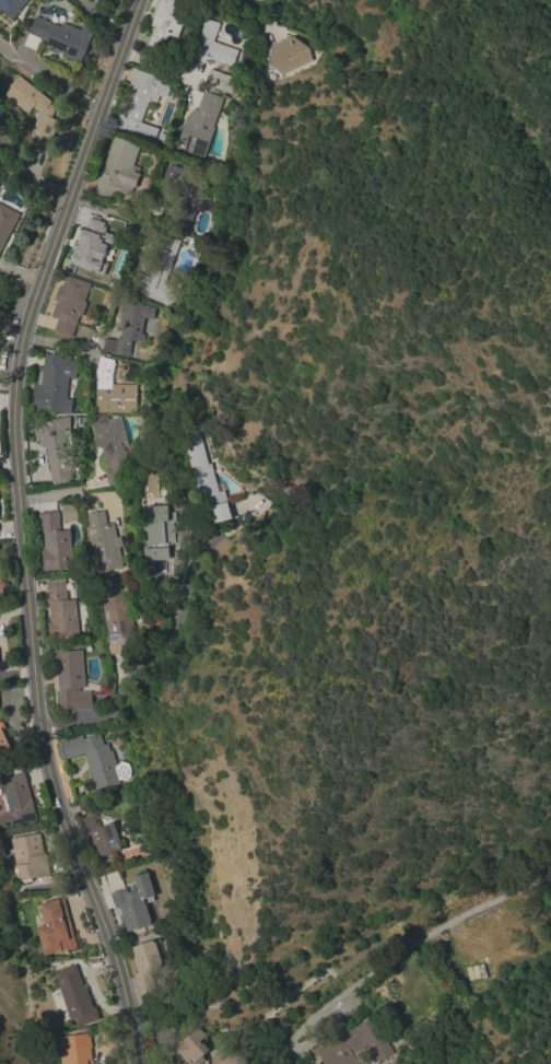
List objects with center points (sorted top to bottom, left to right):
building: (12, 7)
road: (233, 13)
road: (102, 17)
building: (166, 24)
building: (62, 37)
building: (211, 46)
building: (288, 54)
road: (49, 79)
building: (221, 82)
building: (140, 105)
building: (45, 116)
building: (198, 127)
building: (161, 139)
building: (118, 169)
building: (181, 192)
road: (117, 215)
building: (7, 223)
building: (91, 246)
road: (20, 270)
building: (156, 270)
building: (69, 304)
building: (131, 326)
building: (54, 384)
building: (112, 390)
building: (57, 447)
building: (112, 447)
building: (206, 482)
road: (46, 493)
building: (69, 512)
road: (17, 529)
building: (159, 534)
building: (104, 542)
building: (54, 543)
building: (2, 584)
building: (60, 611)
building: (154, 621)
building: (118, 624)
road: (164, 641)
road: (16, 674)
building: (71, 681)
building: (117, 739)
building: (4, 746)
building: (95, 759)
building: (16, 800)
building: (98, 831)
building: (28, 857)
building: (133, 903)
building: (56, 927)
road: (400, 952)
building: (146, 966)
building: (74, 996)
building: (354, 1044)
building: (74, 1049)
building: (206, 1051)

